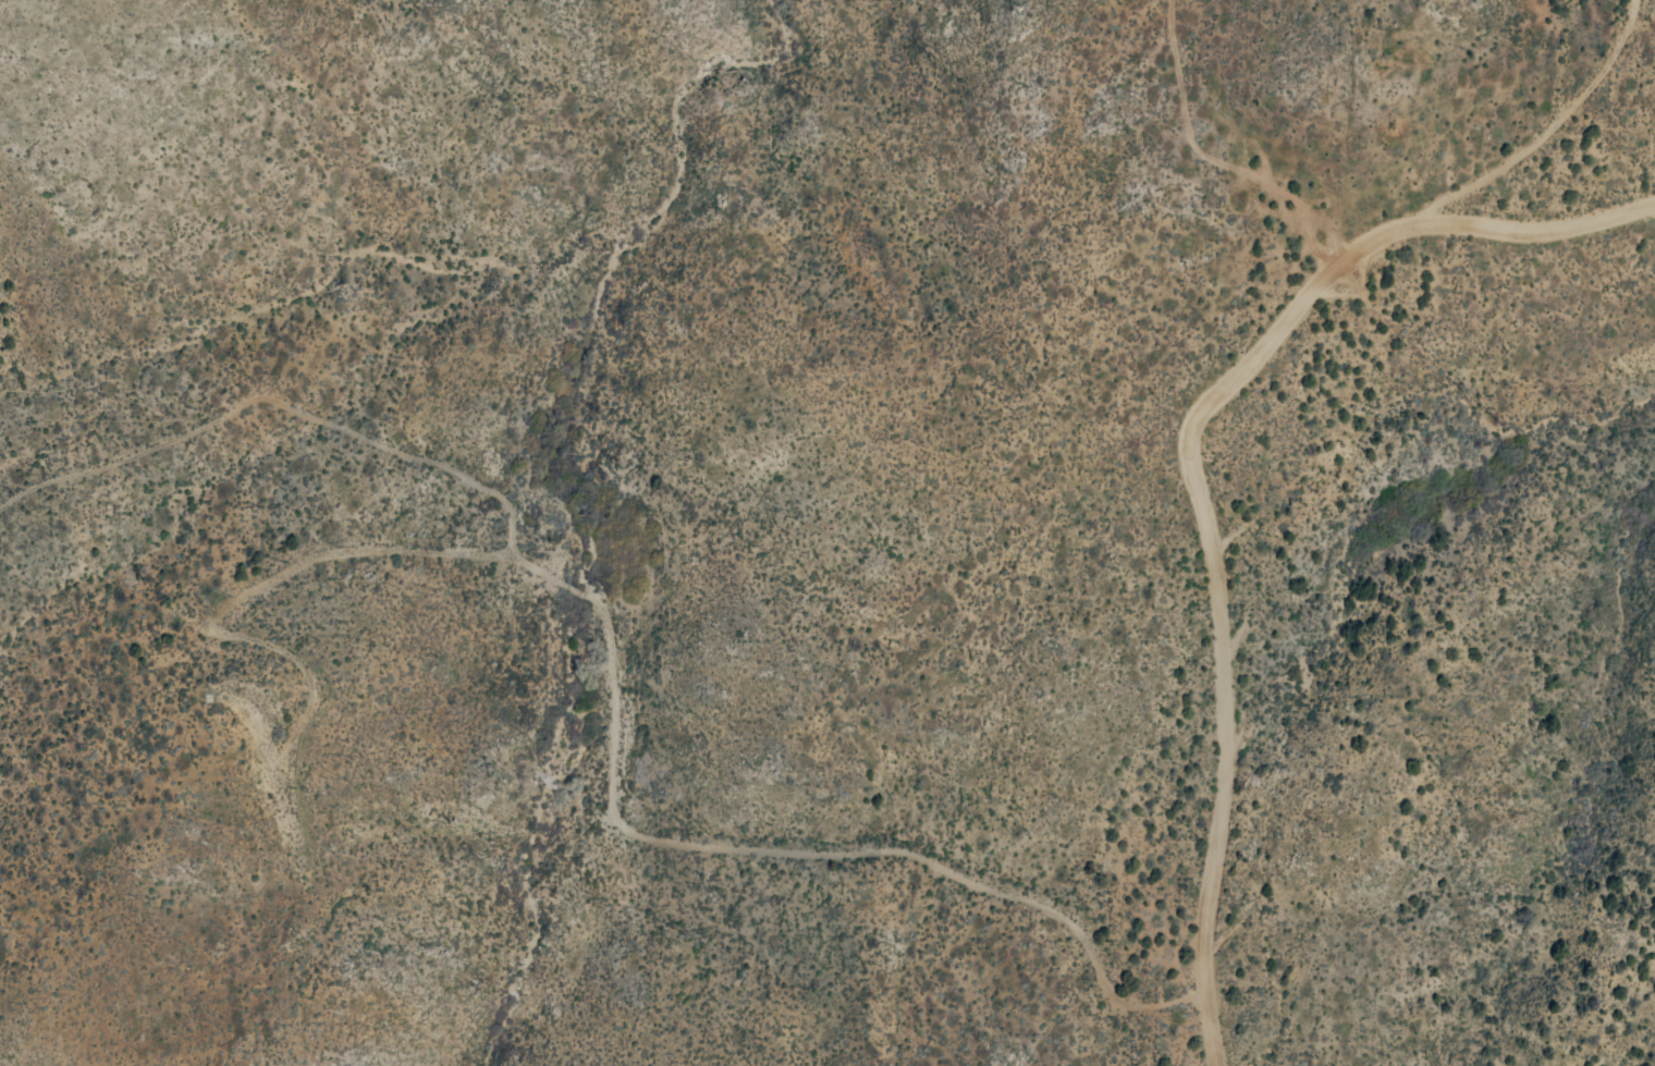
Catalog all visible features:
road: (1194, 474)
road: (615, 725)

